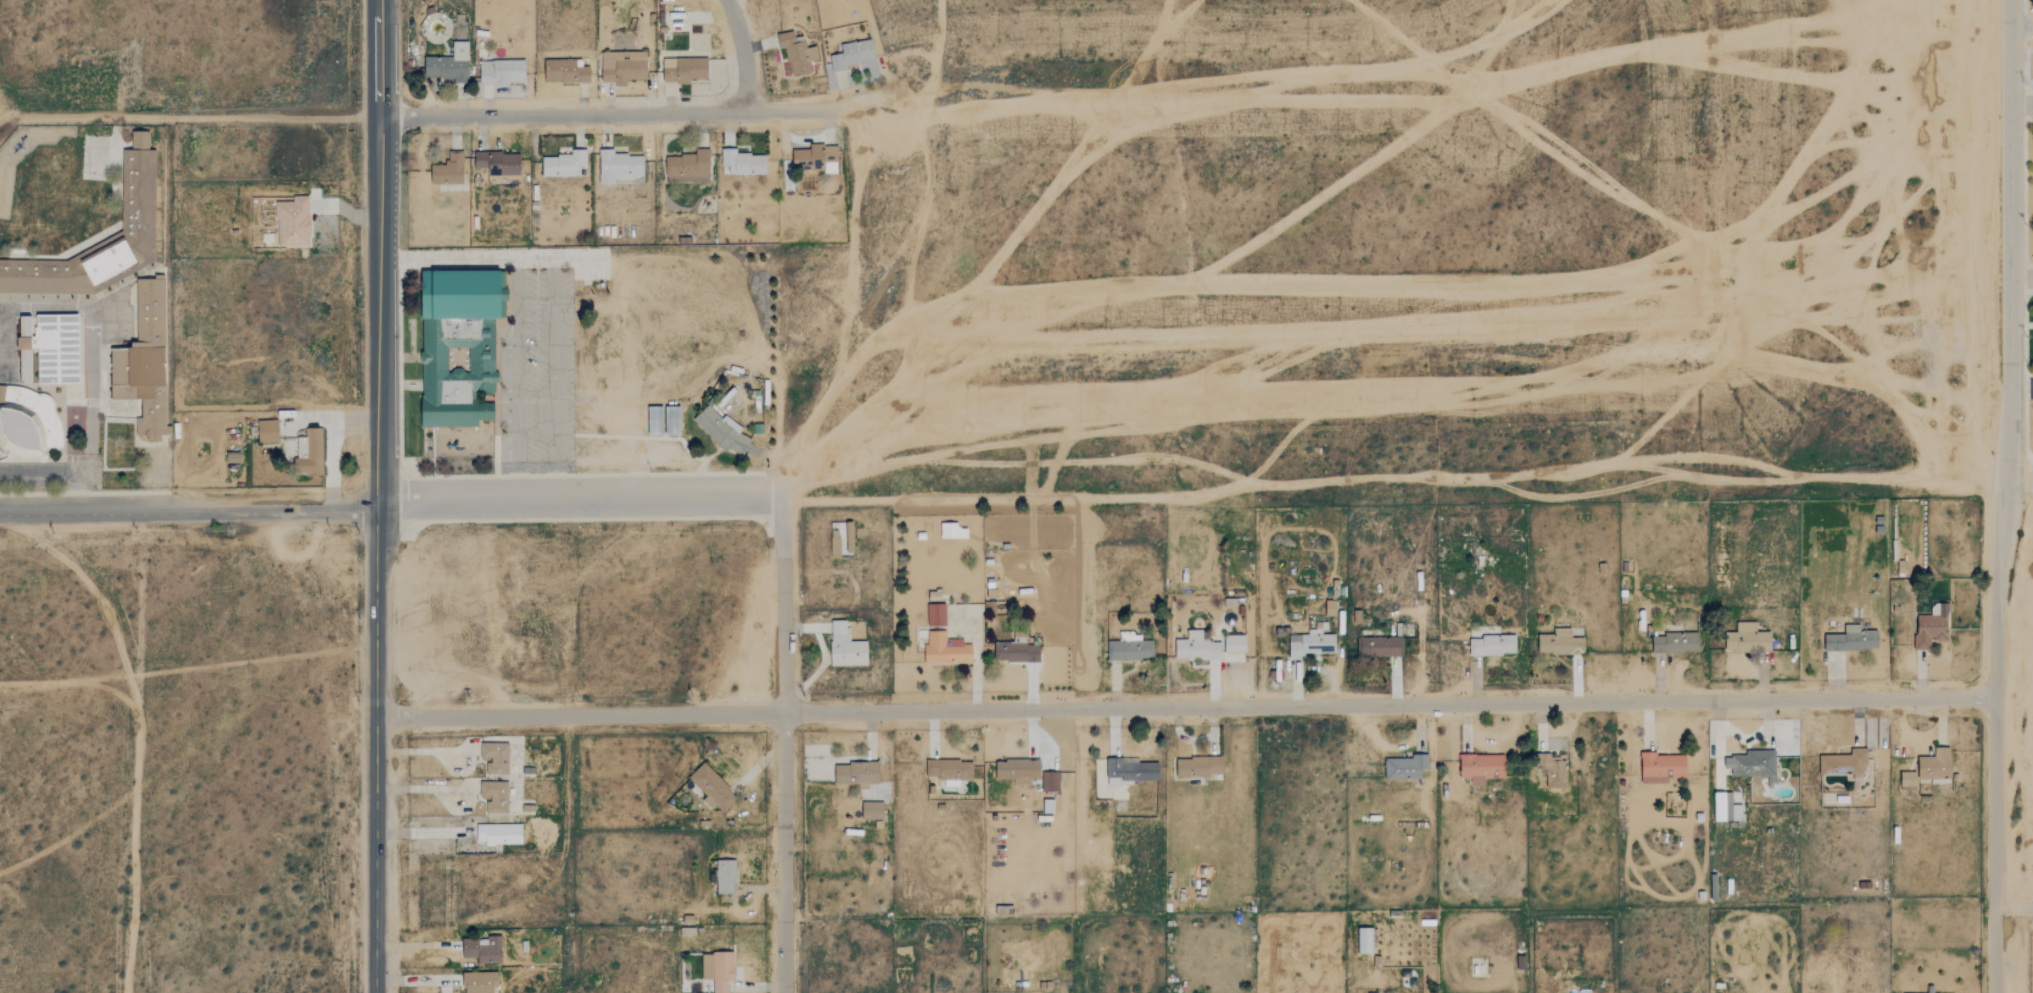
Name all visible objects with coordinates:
road: (742, 52)
building: (797, 53)
building: (852, 55)
building: (449, 64)
building: (623, 67)
building: (684, 69)
building: (565, 71)
building: (501, 72)
road: (2022, 105)
road: (613, 116)
road: (191, 117)
building: (816, 158)
building: (742, 163)
building: (499, 164)
building: (562, 164)
building: (619, 167)
building: (687, 168)
building: (448, 170)
building: (138, 189)
building: (293, 222)
road: (382, 254)
road: (492, 257)
road: (2022, 276)
building: (460, 344)
building: (49, 347)
building: (144, 360)
road: (551, 376)
road: (514, 377)
road: (2022, 384)
building: (673, 422)
building: (31, 423)
building: (721, 431)
building: (268, 432)
building: (309, 453)
building: (233, 461)
road: (59, 470)
road: (1382, 478)
road: (2011, 482)
road: (581, 496)
road: (2006, 496)
road: (190, 511)
building: (835, 544)
building: (934, 595)
building: (1330, 607)
building: (936, 614)
building: (1932, 626)
building: (1748, 638)
building: (1853, 639)
building: (1676, 642)
building: (1235, 643)
building: (1310, 643)
building: (1560, 643)
building: (1493, 644)
building: (1379, 645)
building: (846, 646)
building: (1197, 647)
building: (1129, 648)
building: (946, 649)
building: (1016, 651)
road: (1185, 707)
road: (783, 742)
road: (375, 750)
road: (135, 751)
road: (423, 751)
building: (495, 757)
building: (1844, 762)
building: (1752, 763)
building: (1935, 764)
building: (1199, 766)
building: (1482, 766)
building: (1406, 767)
building: (1662, 767)
building: (951, 770)
building: (1018, 770)
building: (1554, 770)
building: (1131, 771)
building: (856, 773)
building: (1908, 780)
building: (1050, 781)
building: (711, 787)
road: (424, 789)
building: (495, 796)
building: (1720, 806)
building: (872, 810)
building: (1734, 810)
road: (423, 832)
building: (499, 833)
building: (725, 876)
road: (2014, 908)
building: (1364, 940)
building: (482, 950)
building: (718, 970)
building: (480, 982)

